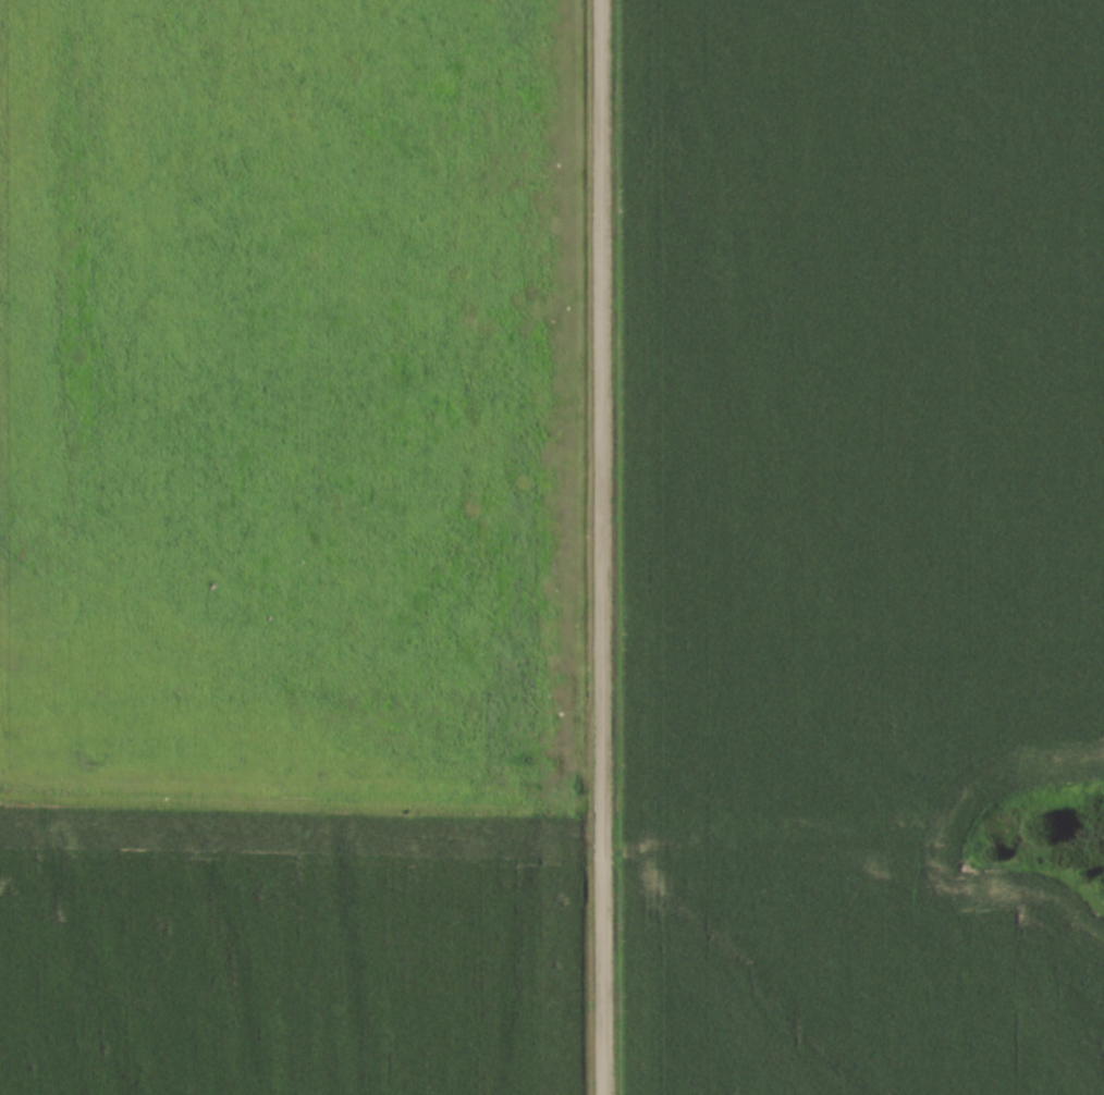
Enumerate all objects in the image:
road: (602, 547)

